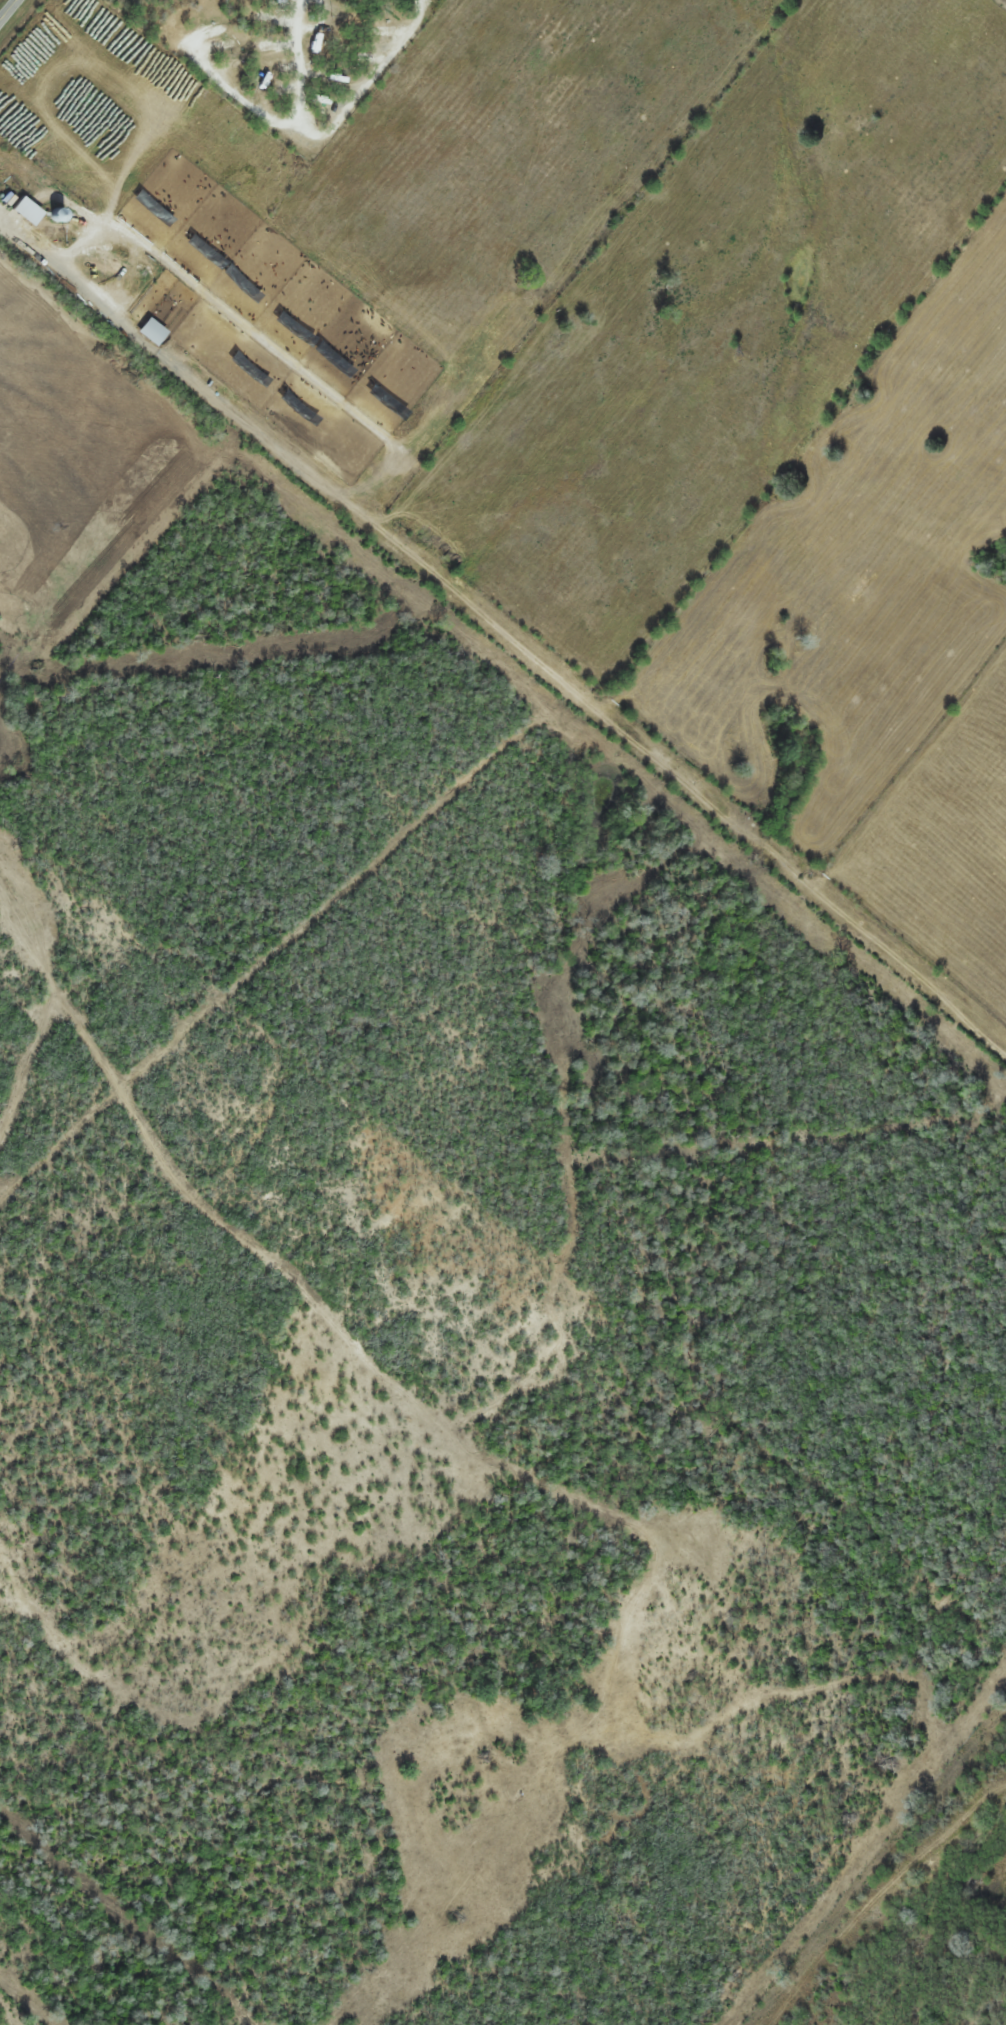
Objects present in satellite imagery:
road: (8, 10)

